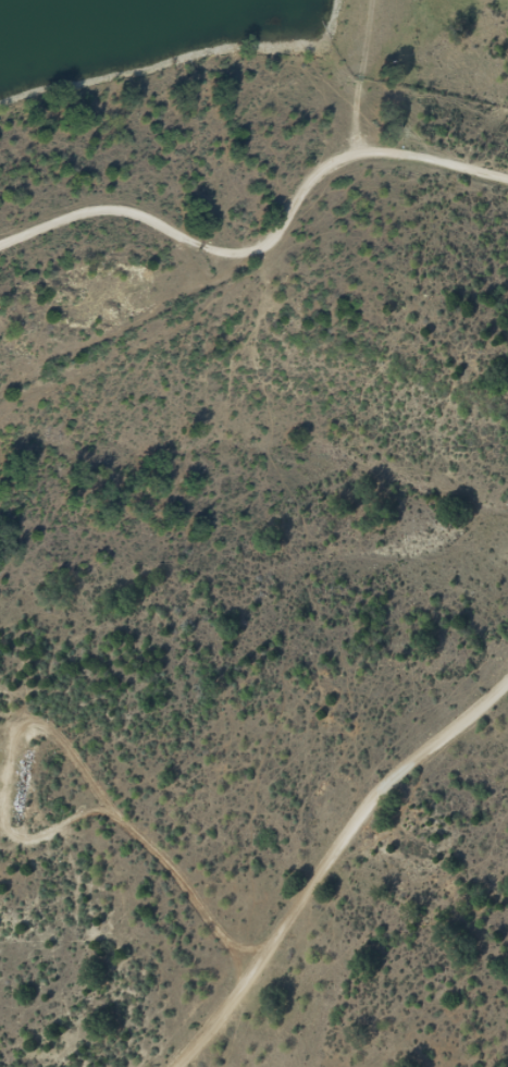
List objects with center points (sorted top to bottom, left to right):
road: (260, 302)
road: (357, 902)

